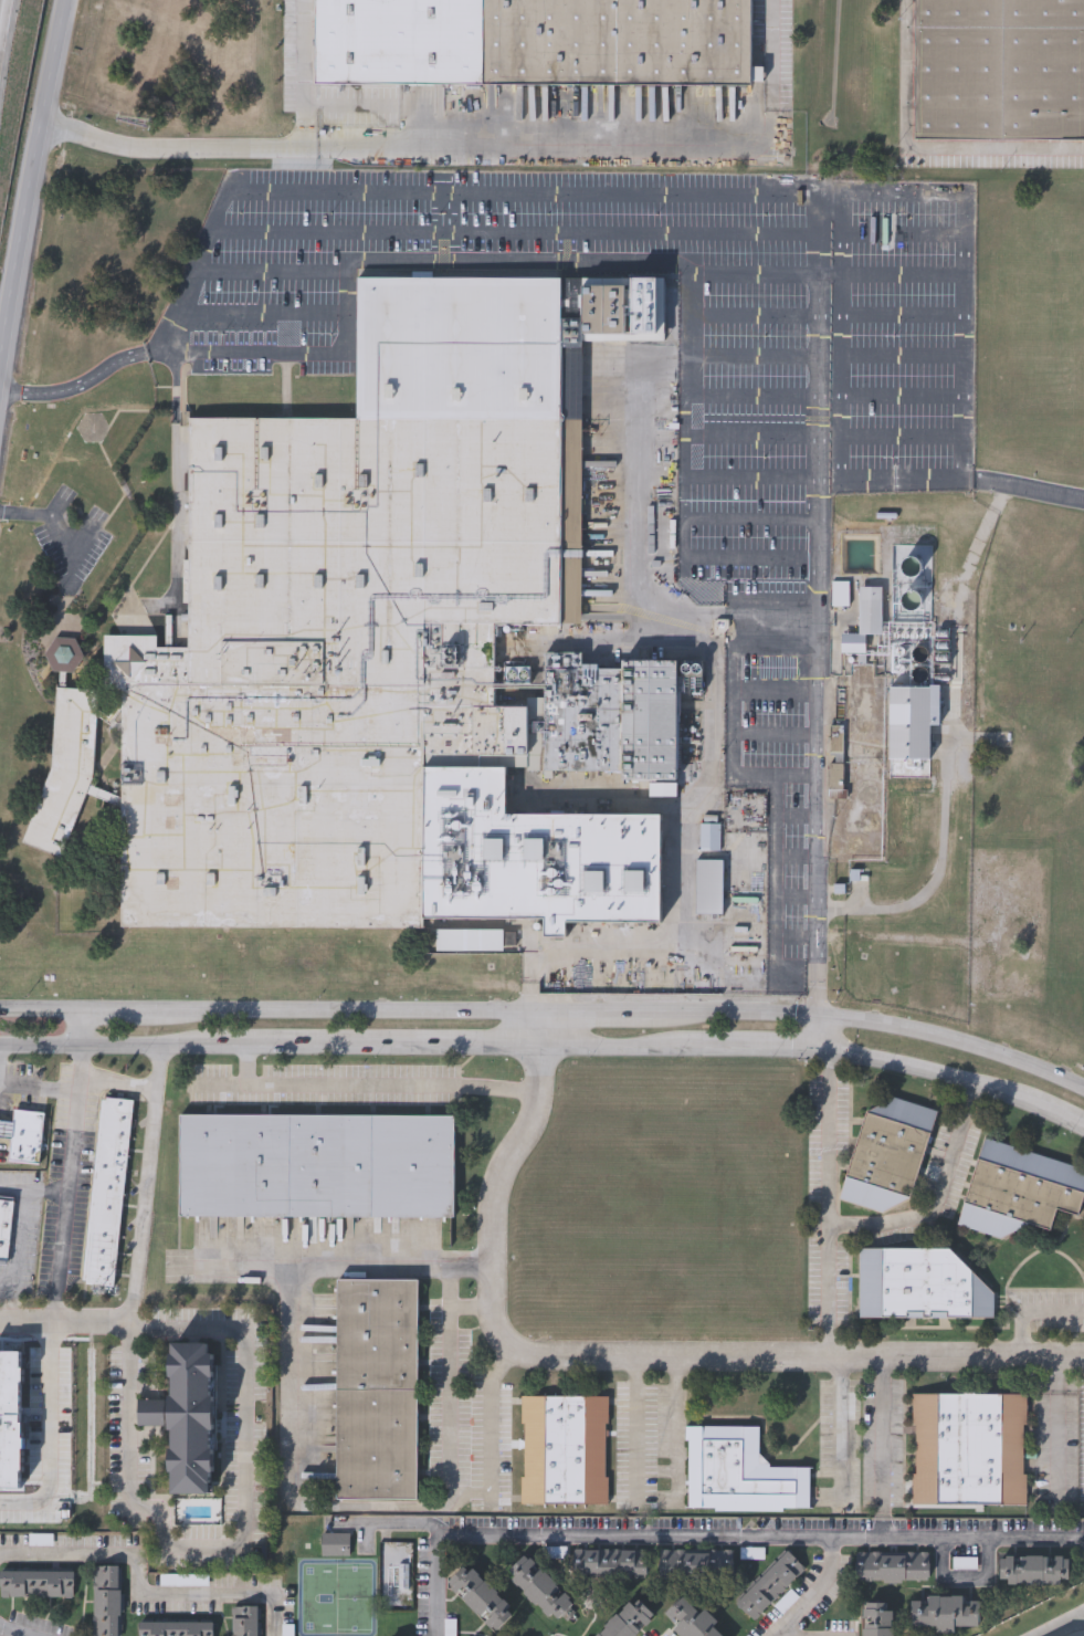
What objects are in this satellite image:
building: (530, 41)
road: (307, 61)
building: (998, 67)
road: (905, 74)
road: (307, 127)
road: (260, 133)
road: (693, 144)
road: (998, 148)
road: (31, 178)
road: (841, 208)
road: (507, 231)
road: (601, 262)
road: (270, 270)
road: (190, 271)
road: (830, 272)
road: (753, 276)
road: (257, 313)
road: (818, 326)
road: (76, 384)
road: (1024, 489)
road: (634, 580)
building: (865, 622)
building: (392, 643)
building: (912, 731)
building: (66, 757)
building: (712, 839)
road: (685, 867)
road: (936, 877)
building: (709, 890)
building: (469, 941)
road: (338, 1011)
road: (596, 1011)
road: (42, 1013)
road: (110, 1013)
road: (873, 1022)
road: (84, 1028)
road: (540, 1029)
road: (819, 1030)
road: (108, 1045)
road: (379, 1046)
road: (622, 1047)
road: (760, 1047)
road: (929, 1071)
road: (373, 1086)
road: (140, 1087)
road: (40, 1090)
road: (1061, 1115)
building: (24, 1136)
road: (73, 1152)
building: (886, 1156)
building: (315, 1167)
building: (1019, 1192)
building: (108, 1193)
road: (941, 1197)
road: (831, 1204)
building: (6, 1228)
road: (20, 1244)
road: (64, 1258)
road: (246, 1270)
road: (137, 1271)
building: (920, 1287)
road: (470, 1305)
road: (1034, 1315)
road: (1, 1320)
road: (1, 1321)
road: (635, 1361)
building: (376, 1391)
road: (492, 1419)
building: (189, 1420)
building: (11, 1422)
road: (842, 1428)
road: (677, 1429)
road: (1056, 1429)
road: (635, 1430)
road: (882, 1430)
road: (50, 1441)
building: (968, 1450)
building: (565, 1453)
building: (739, 1475)
road: (291, 1485)
road: (471, 1492)
road: (242, 1535)
road: (709, 1537)
building: (612, 1564)
building: (698, 1564)
building: (893, 1567)
building: (1032, 1572)
road: (961, 1576)
building: (38, 1585)
building: (771, 1586)
building: (540, 1591)
road: (813, 1592)
road: (140, 1593)
building: (107, 1601)
building: (486, 1602)
building: (945, 1614)
road: (1080, 1616)
building: (691, 1619)
building: (877, 1619)
building: (628, 1621)
building: (246, 1622)
road: (1061, 1624)
building: (177, 1629)
road: (11, 1633)

